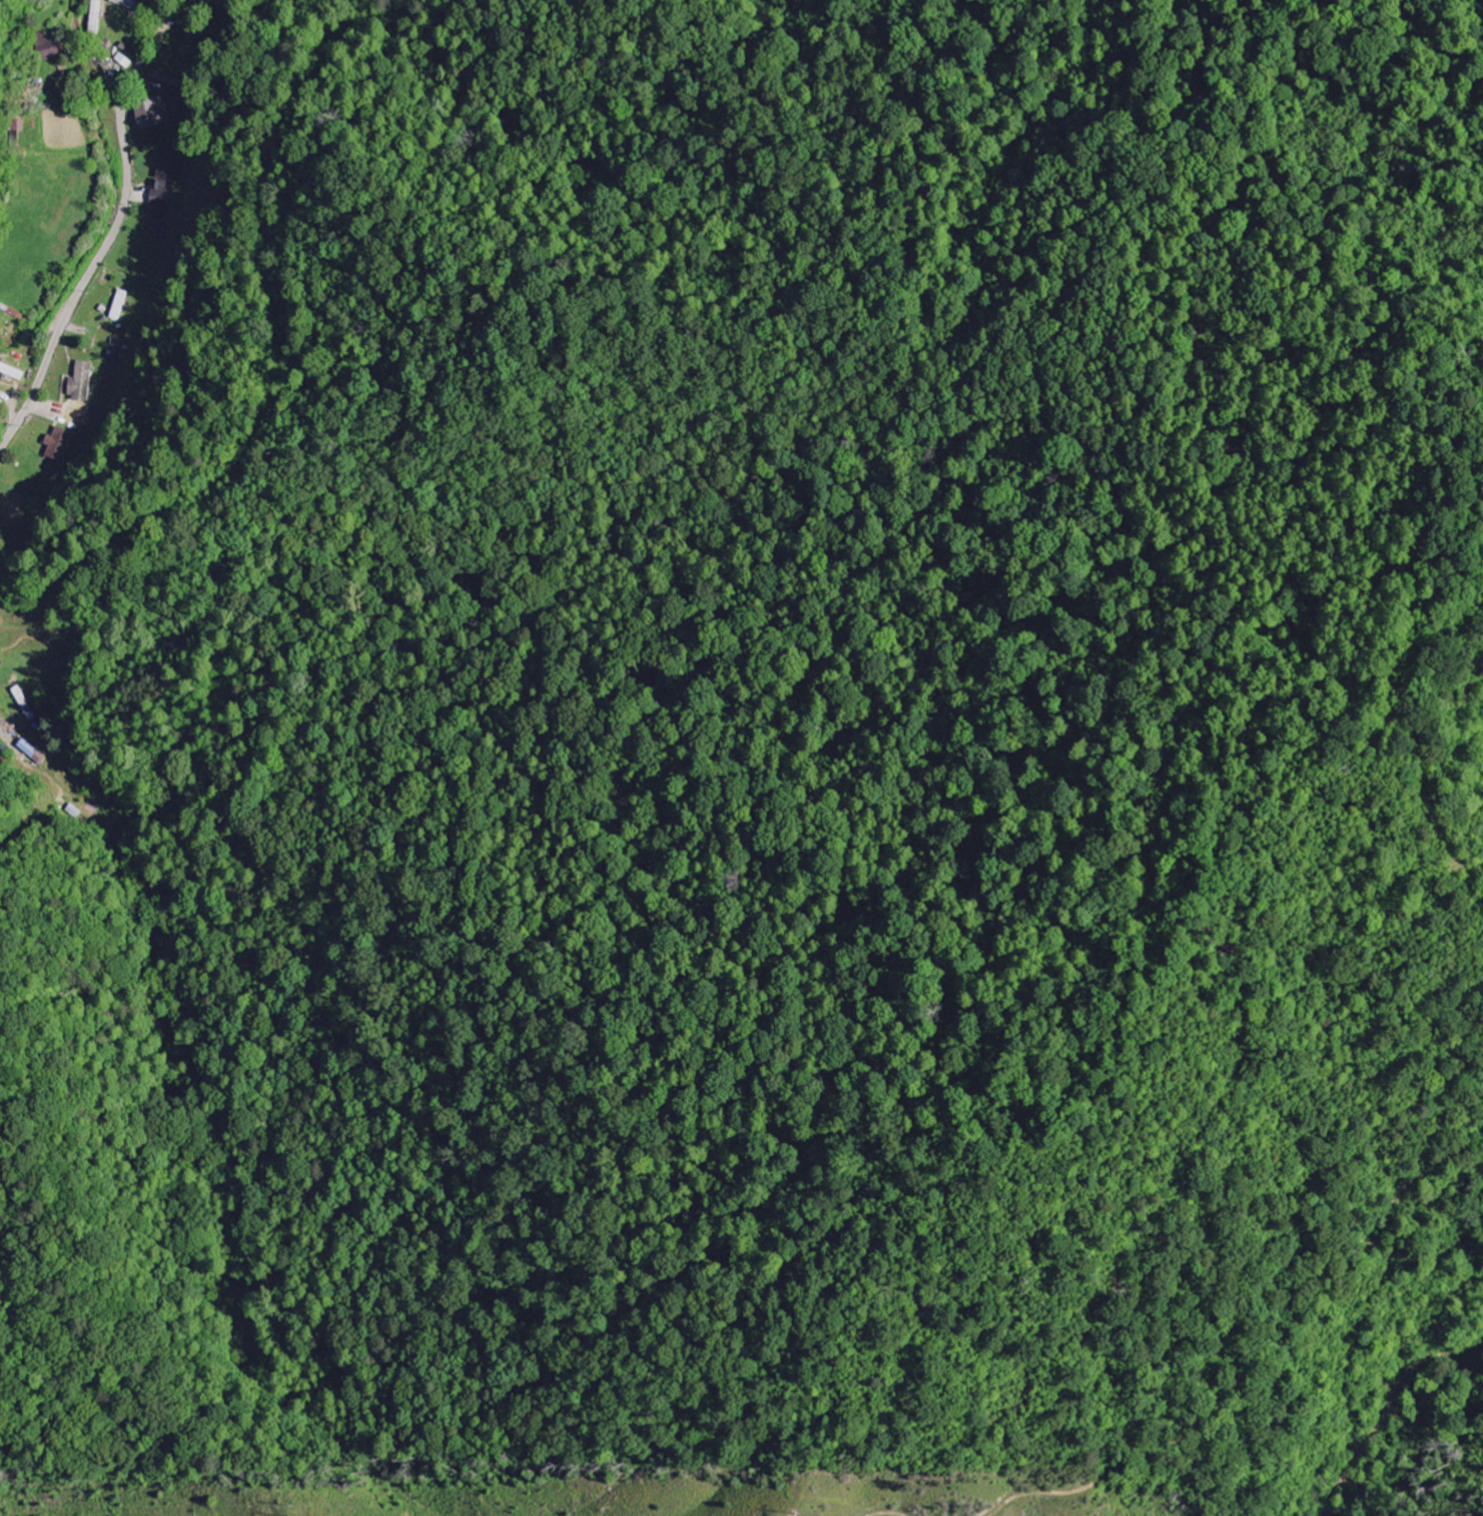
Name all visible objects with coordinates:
road: (184, 11)
building: (153, 113)
building: (168, 174)
road: (113, 234)
building: (120, 305)
building: (12, 371)
building: (82, 382)
building: (60, 444)
building: (25, 703)
building: (31, 753)

